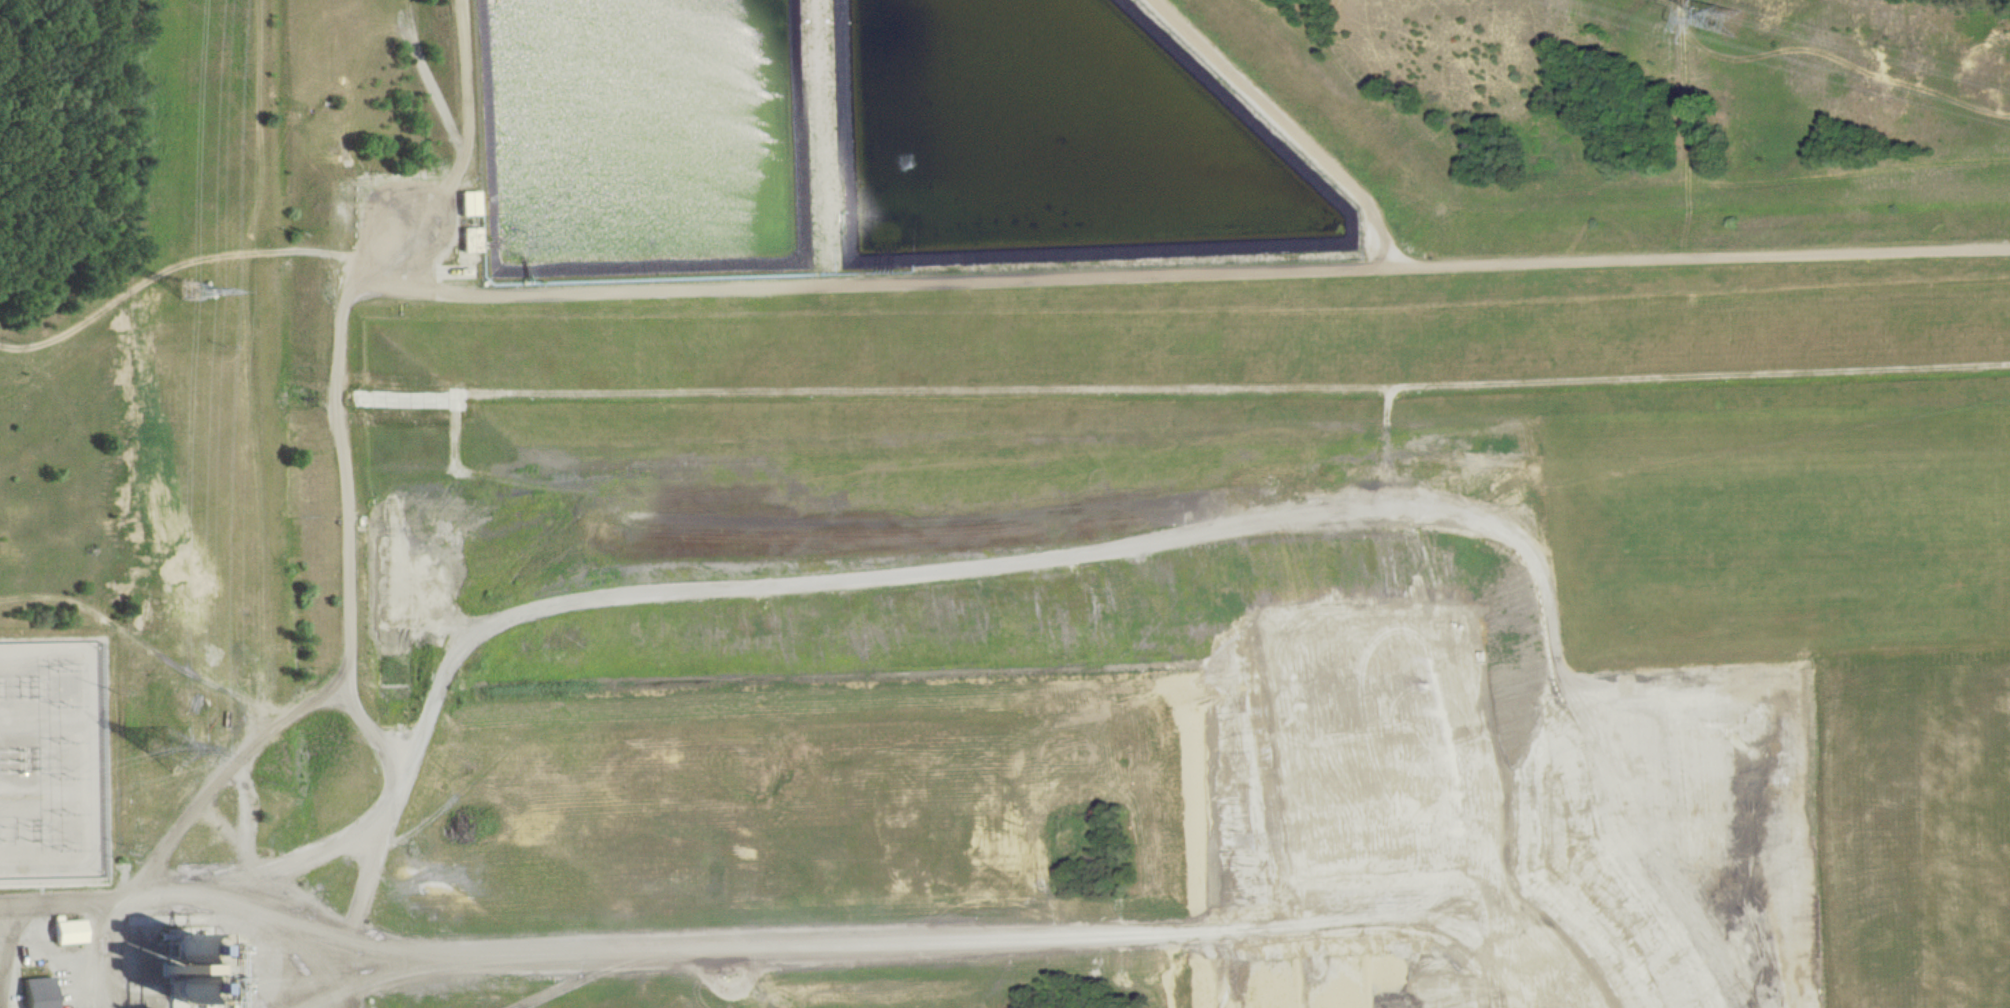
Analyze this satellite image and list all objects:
power tower: (1729, 21)
building: (462, 202)
building: (464, 239)
road: (177, 264)
power tower: (196, 290)
power tower: (175, 748)
power substation: (54, 756)
road: (183, 897)
building: (63, 931)
road: (925, 942)
road: (114, 955)
building: (32, 992)

